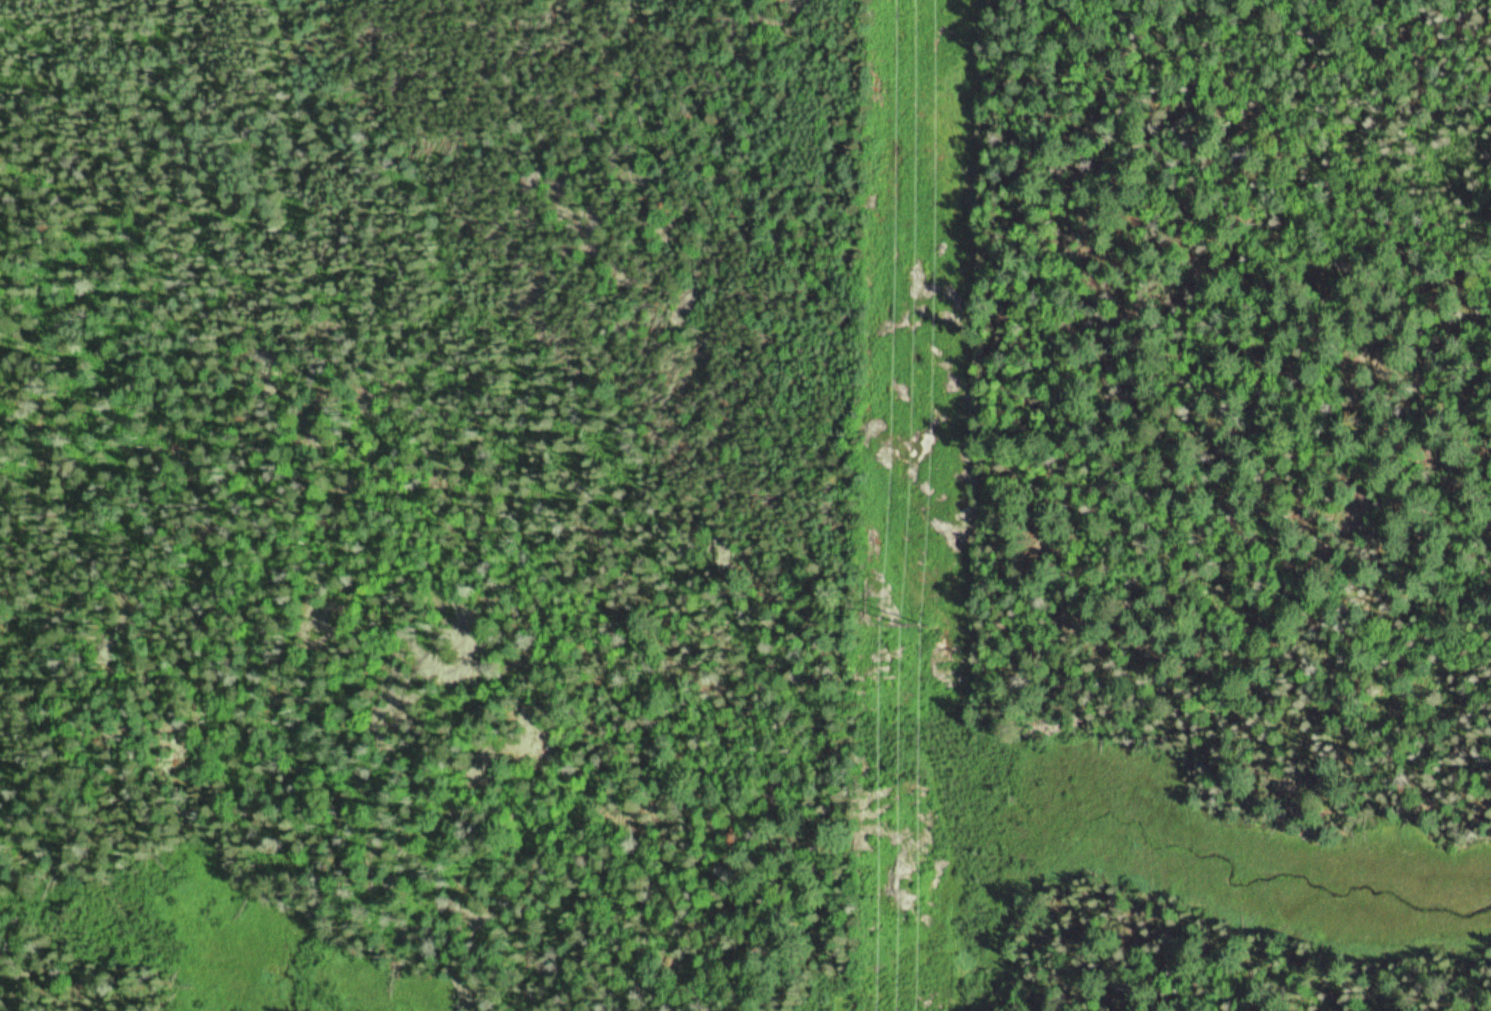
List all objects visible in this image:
power tower: (921, 624)

